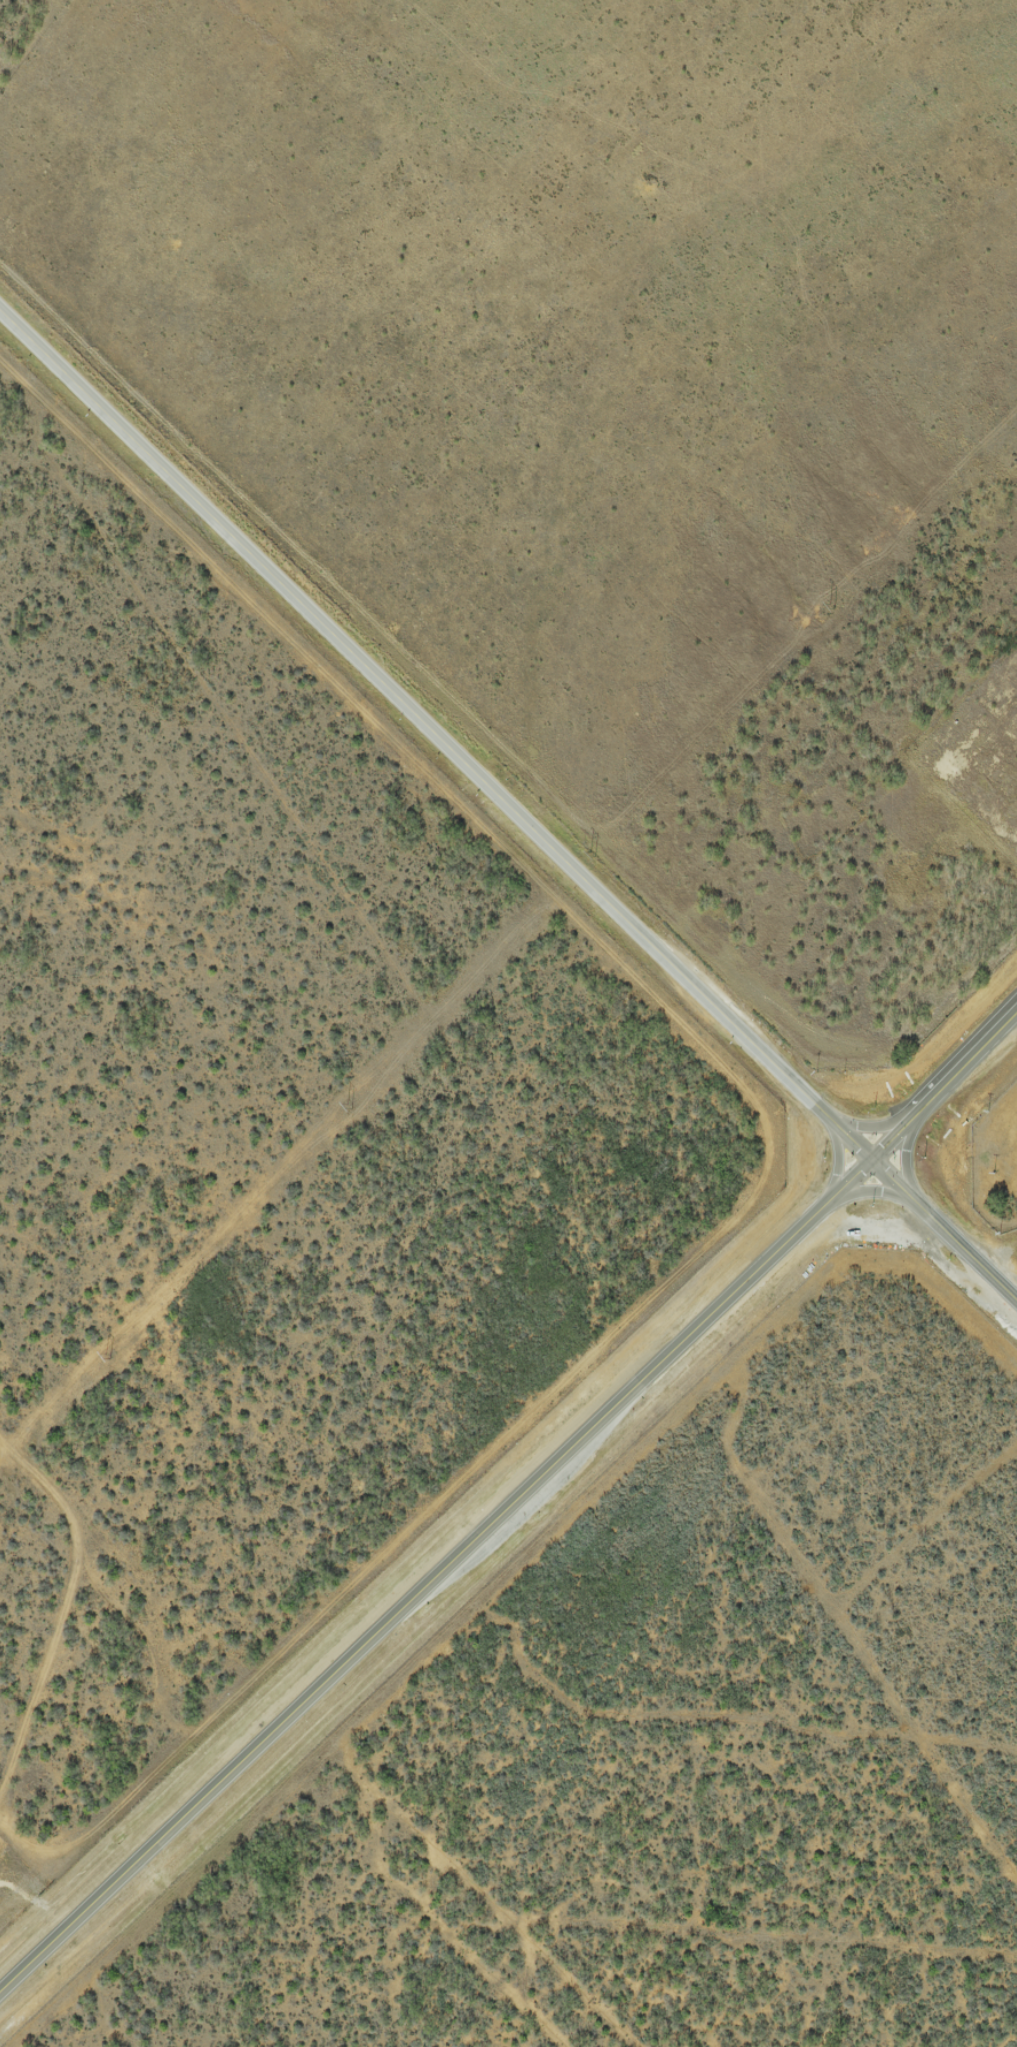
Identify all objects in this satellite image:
power tower: (833, 607)
road: (508, 810)
power tower: (592, 856)
road: (942, 1087)
power tower: (350, 1107)
road: (1008, 1287)
power tower: (107, 1358)
road: (434, 1577)

